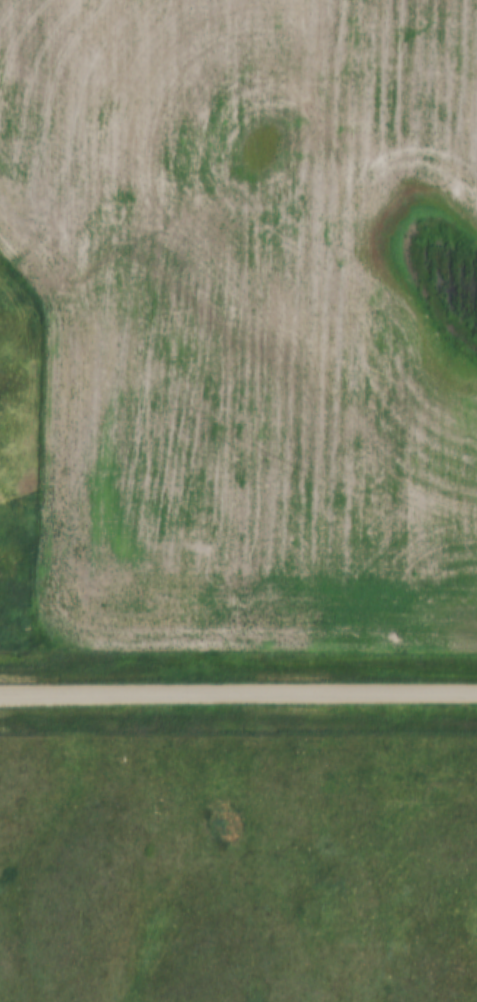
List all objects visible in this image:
road: (238, 694)

